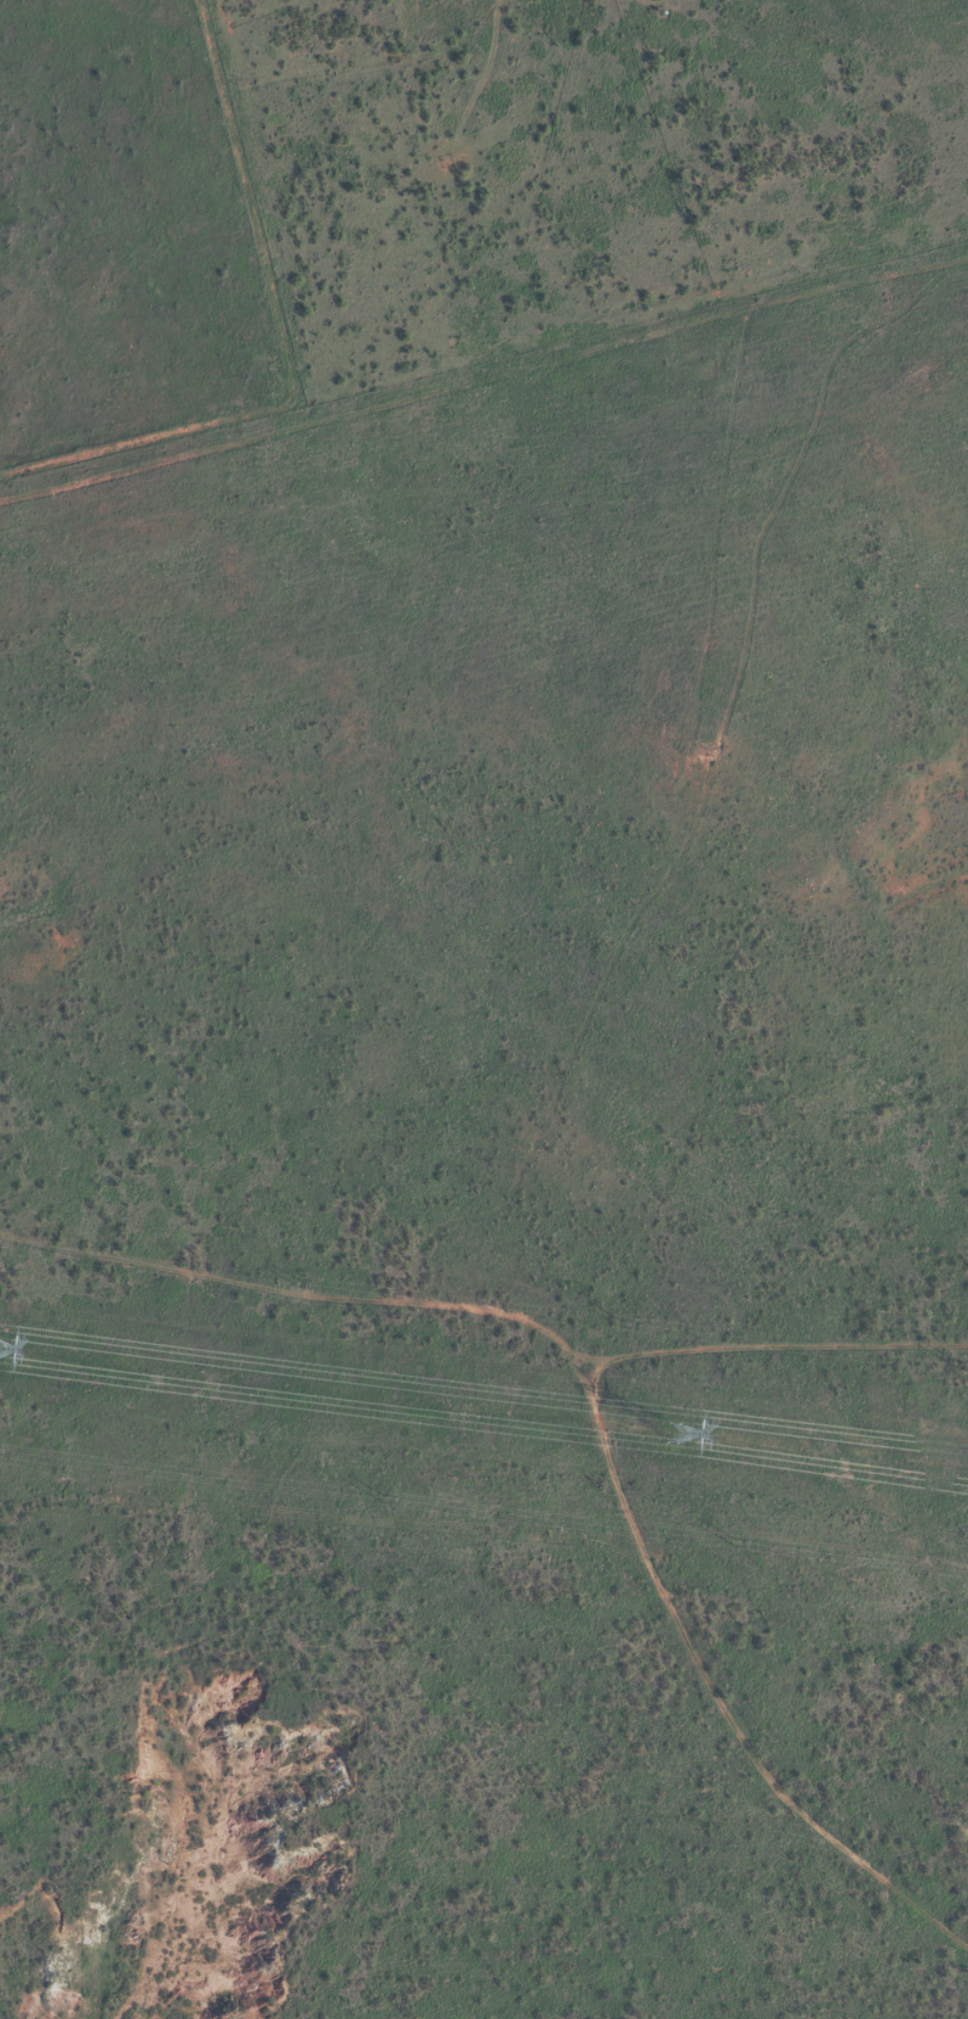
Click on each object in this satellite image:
power tower: (300, 1285)
power tower: (620, 1325)
power tower: (956, 1367)
road: (605, 1420)
power tower: (656, 1432)
power tower: (382, 1501)
power tower: (738, 1545)

